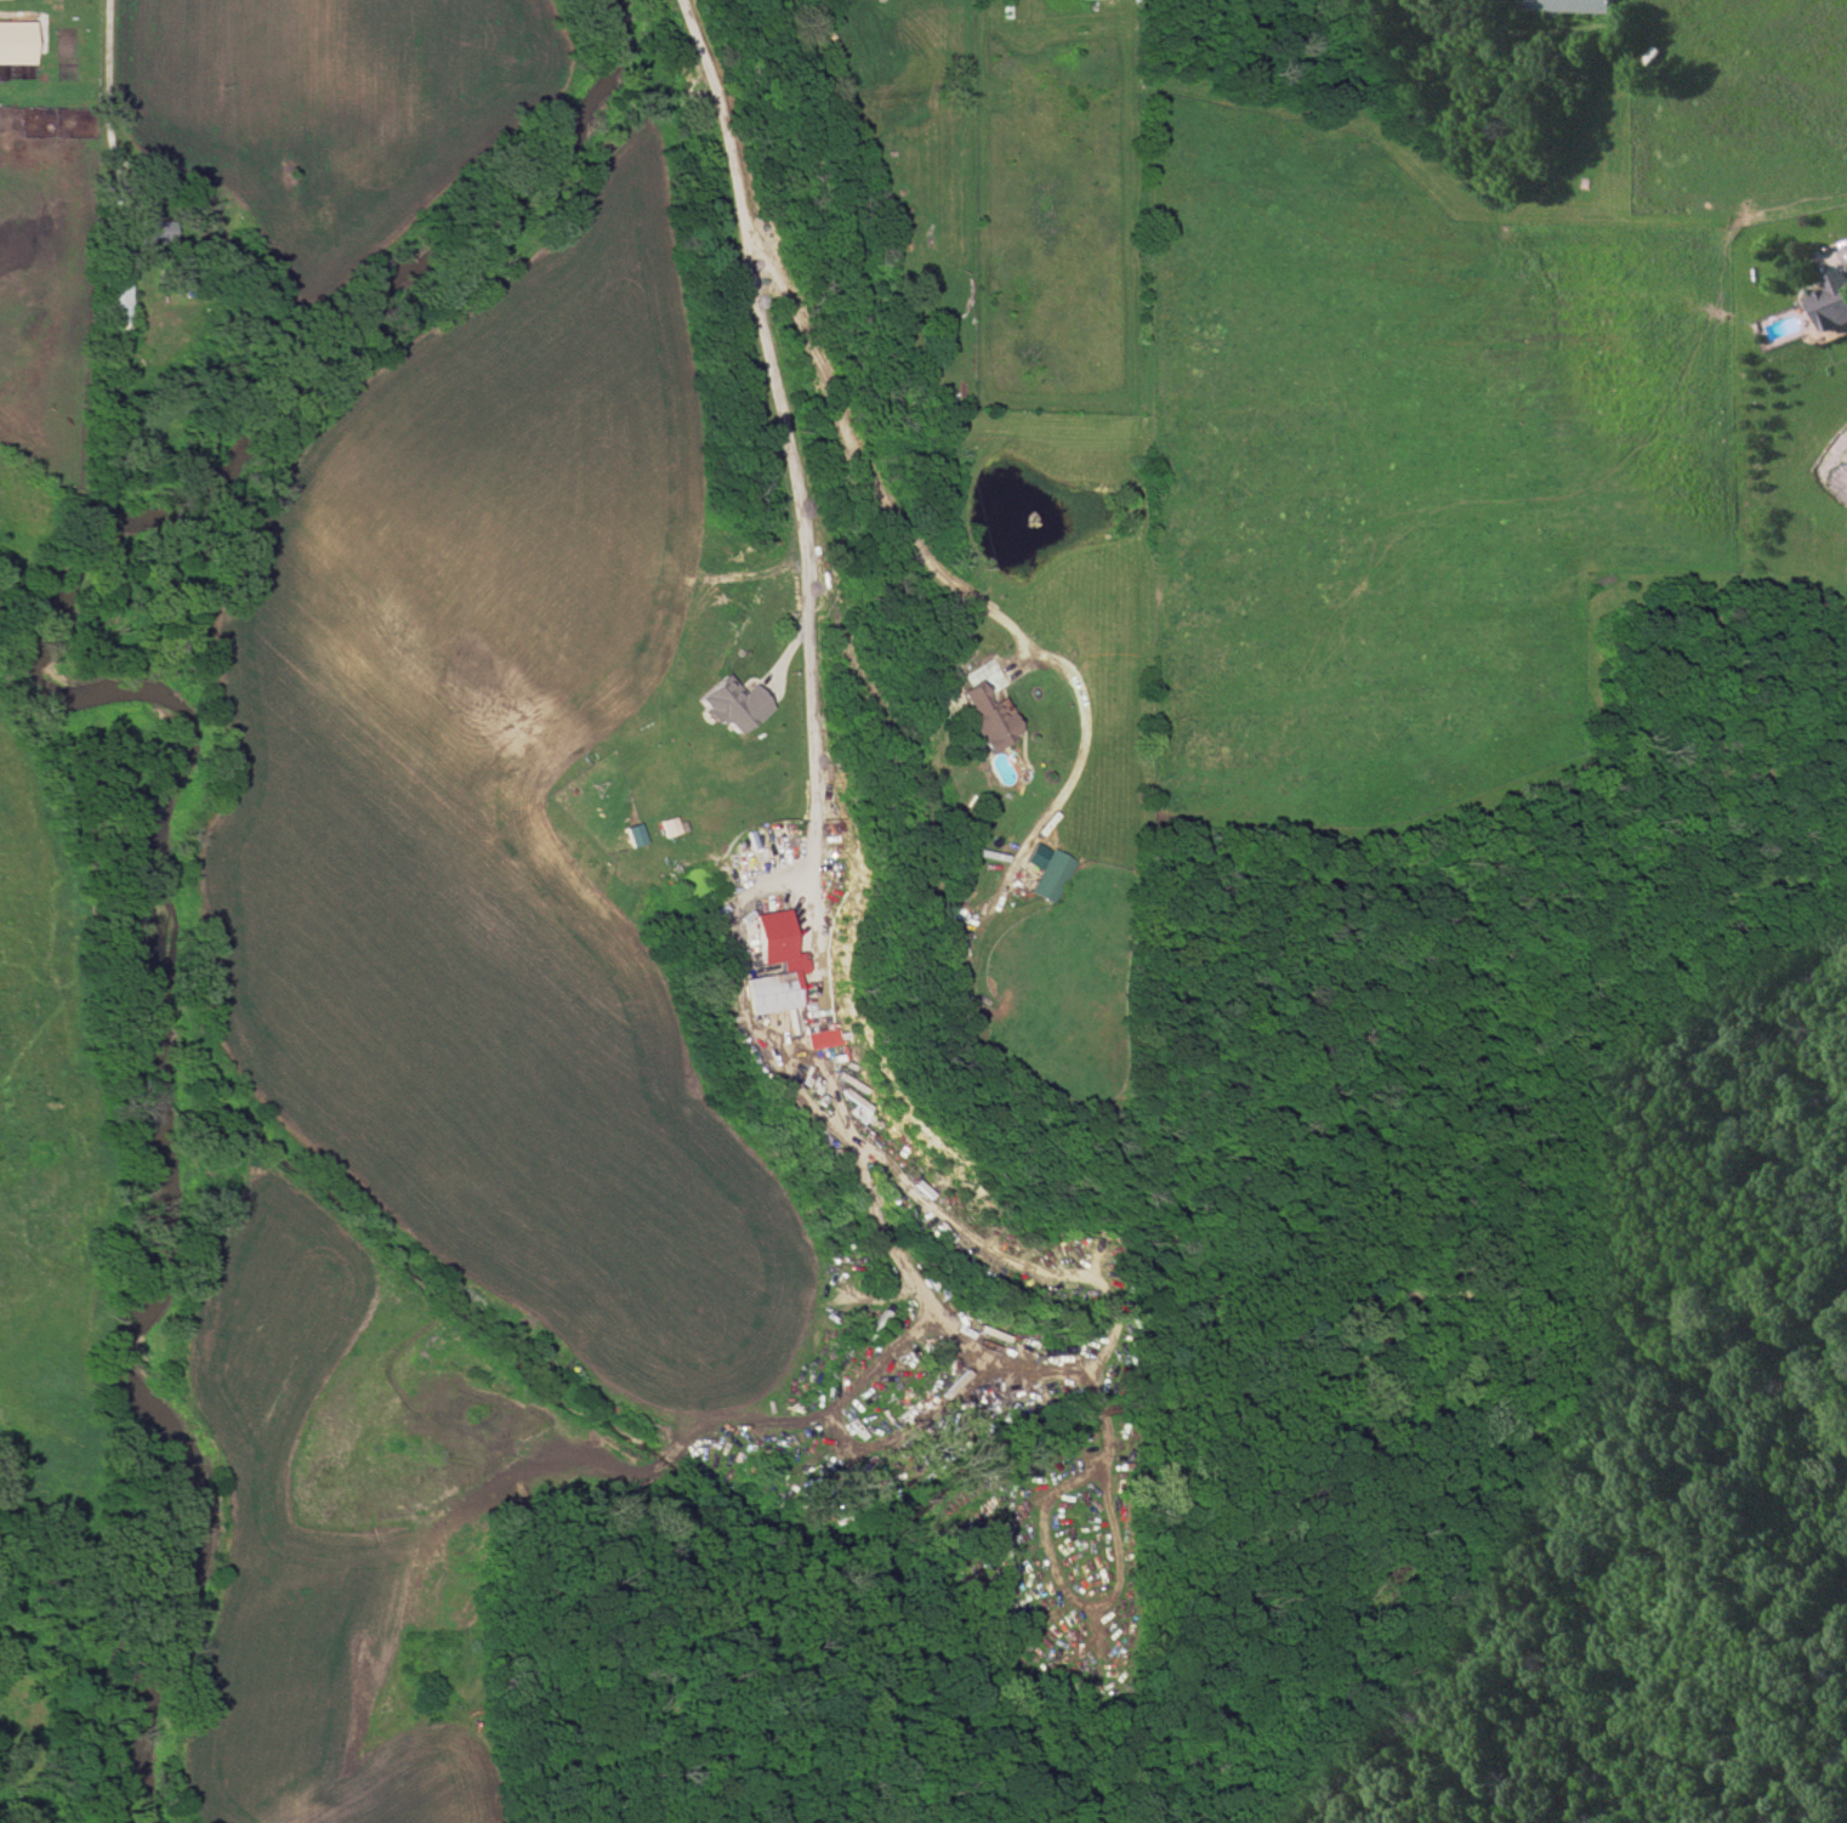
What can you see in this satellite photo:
building: (1572, 5)
building: (15, 41)
road: (106, 98)
building: (150, 229)
building: (1831, 301)
road: (856, 472)
road: (783, 496)
building: (728, 704)
building: (984, 717)
road: (1079, 762)
building: (632, 834)
building: (1046, 870)
building: (794, 967)
building: (823, 1038)
road: (791, 1089)

